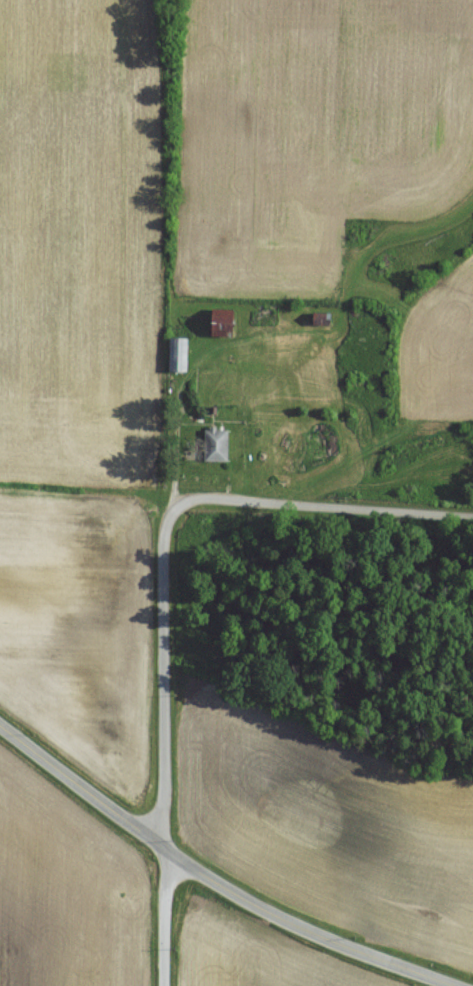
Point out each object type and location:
road: (324, 502)
road: (166, 742)
road: (213, 879)

